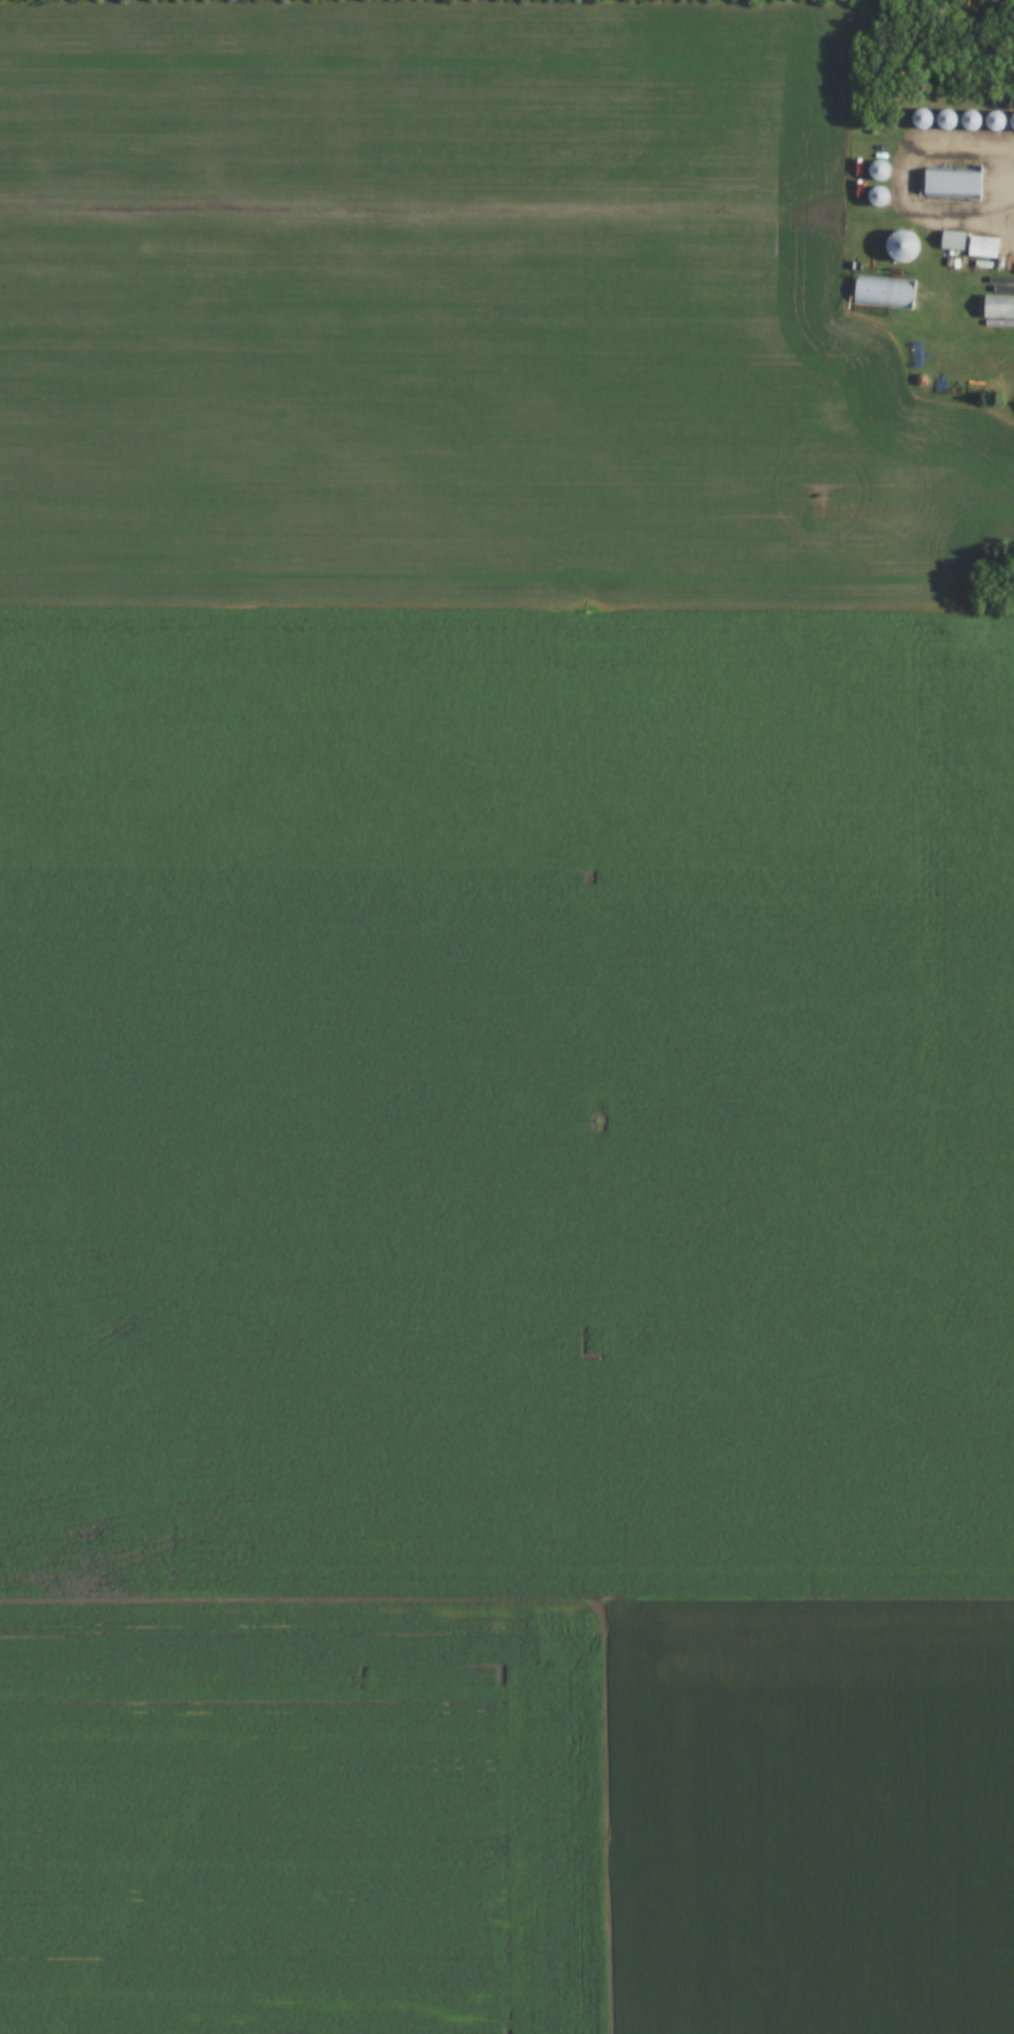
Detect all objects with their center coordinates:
building: (944, 117)
building: (969, 119)
building: (993, 120)
building: (876, 169)
building: (949, 182)
building: (878, 195)
building: (950, 239)
building: (901, 244)
building: (980, 245)
building: (881, 289)
building: (997, 306)

